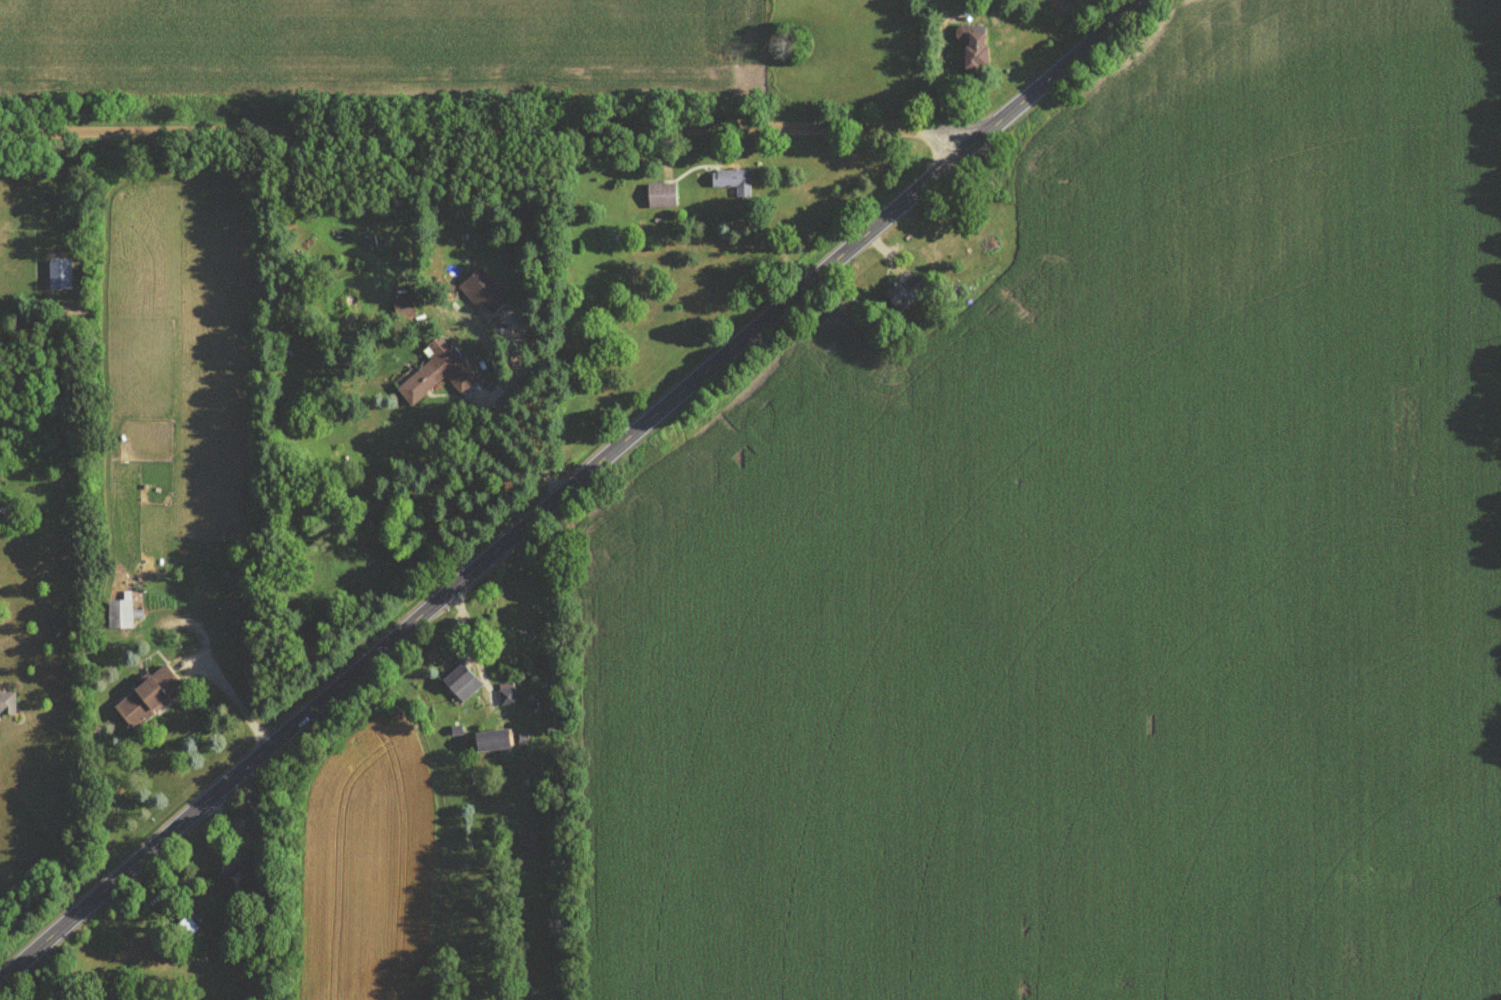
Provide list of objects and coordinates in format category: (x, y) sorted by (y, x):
building: (986, 0)
building: (971, 53)
road: (495, 127)
building: (731, 182)
building: (661, 199)
building: (479, 293)
building: (903, 297)
building: (403, 312)
building: (436, 377)
road: (533, 443)
road: (567, 490)
building: (119, 618)
building: (461, 687)
building: (507, 698)
building: (147, 701)
building: (6, 707)
building: (490, 743)
building: (232, 864)
building: (185, 931)

